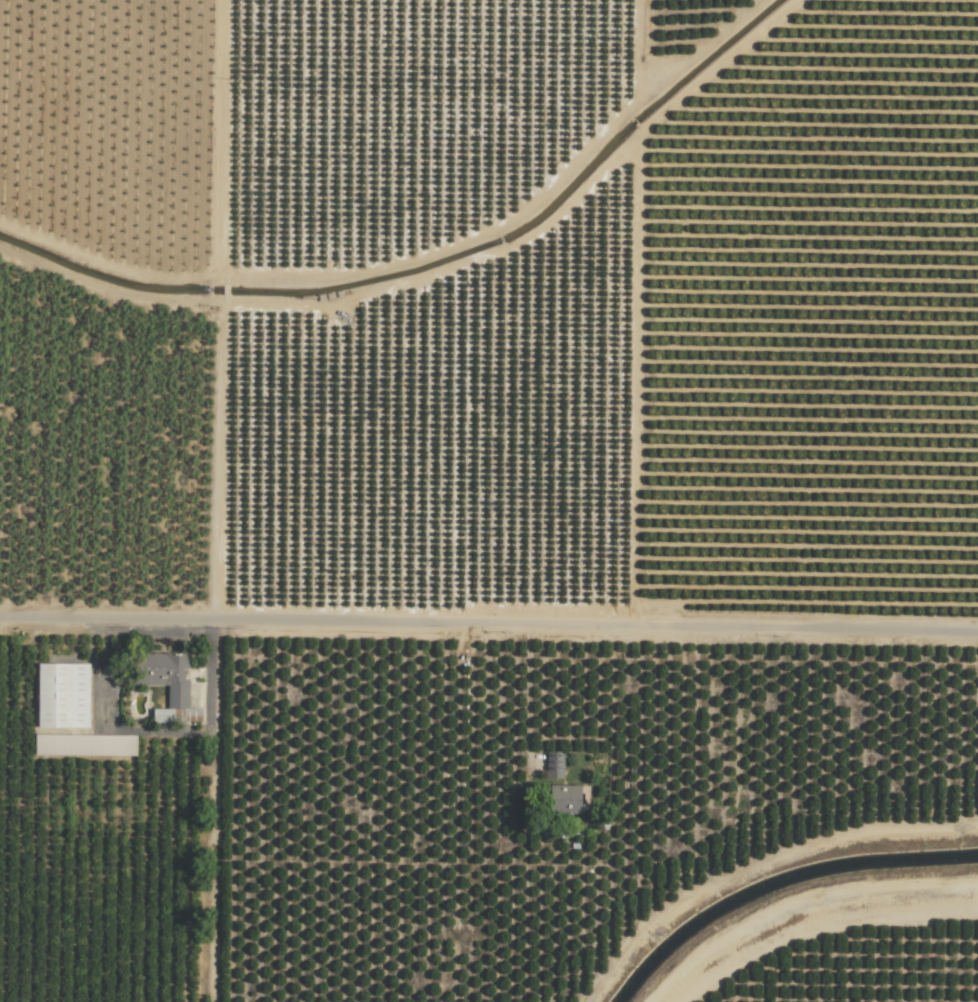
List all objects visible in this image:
road: (488, 623)
building: (168, 684)
road: (527, 690)
building: (62, 695)
building: (85, 744)
building: (564, 799)
road: (818, 926)

